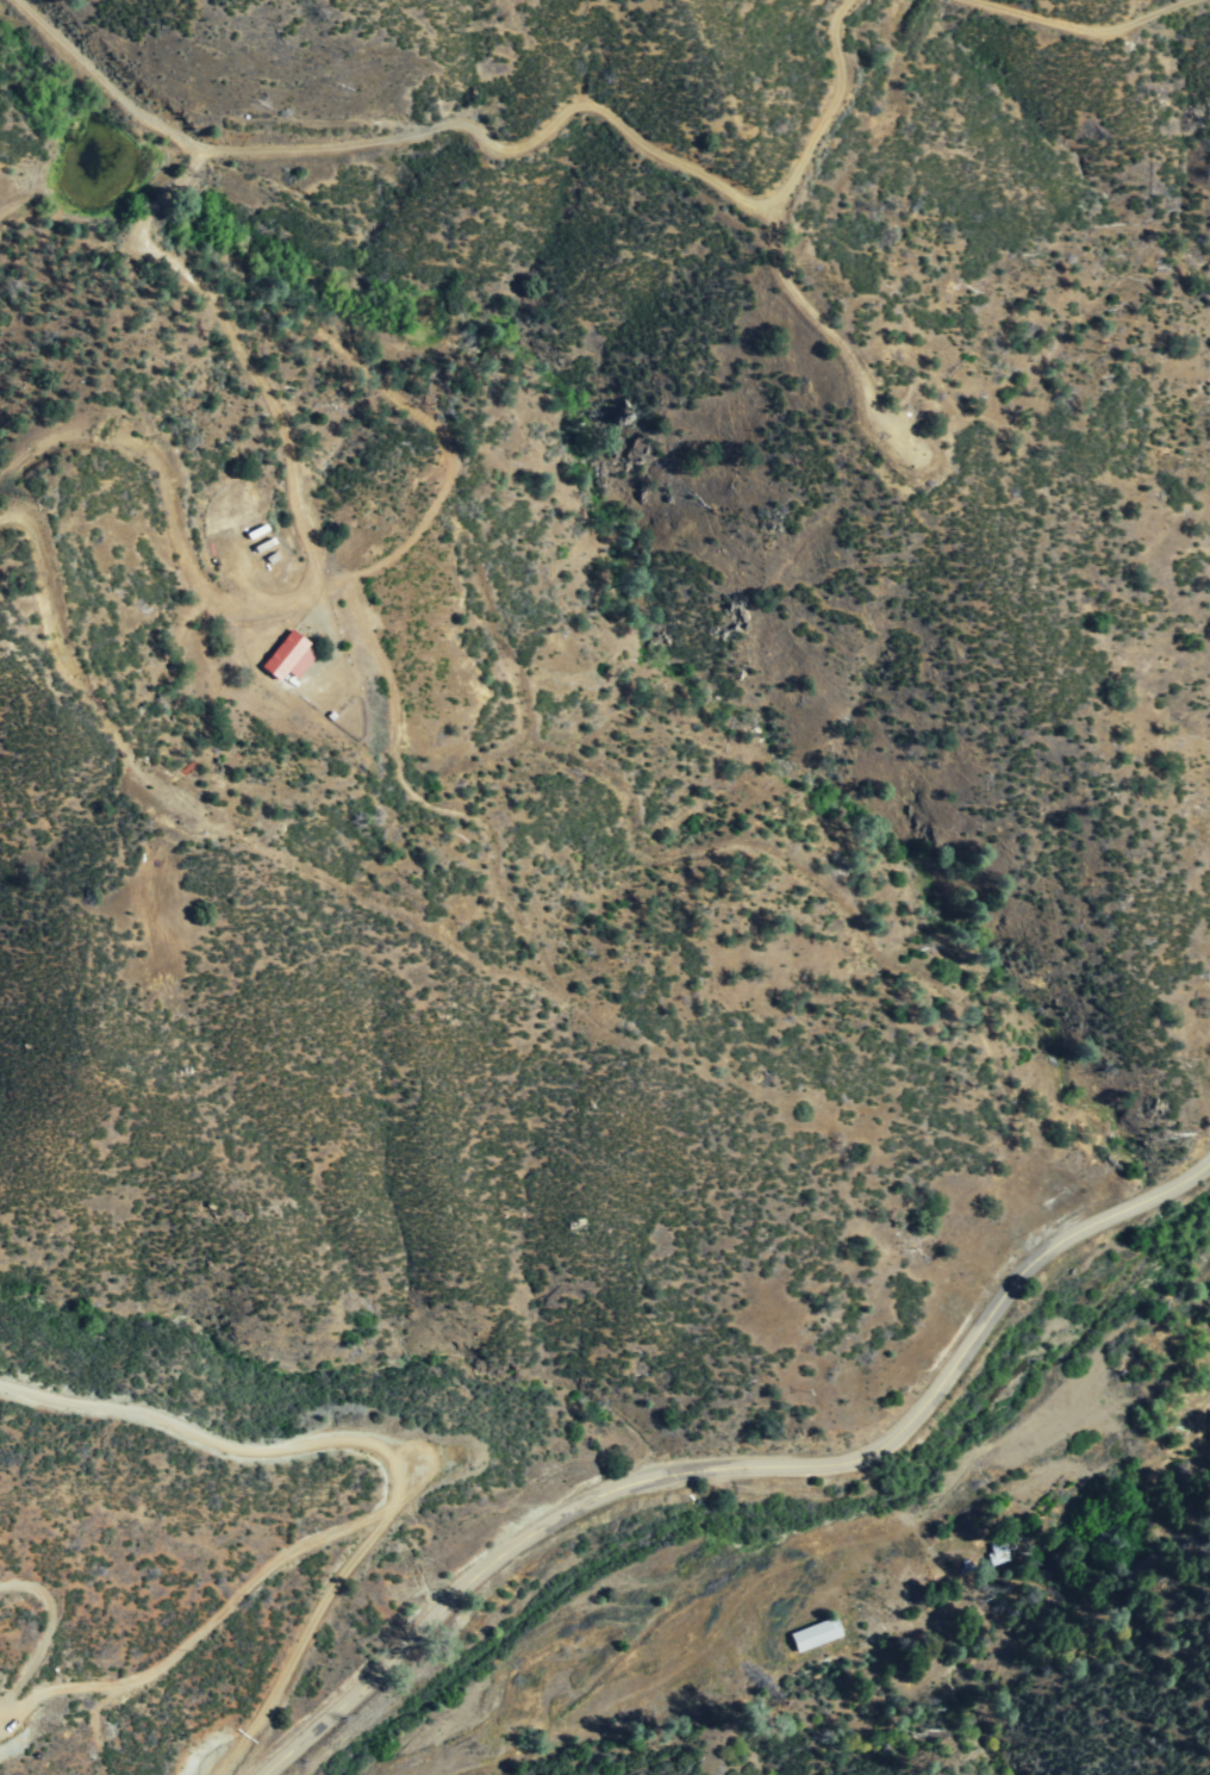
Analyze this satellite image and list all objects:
road: (160, 466)
building: (288, 659)
road: (385, 1446)
road: (737, 1463)
building: (1000, 1552)
building: (815, 1634)

